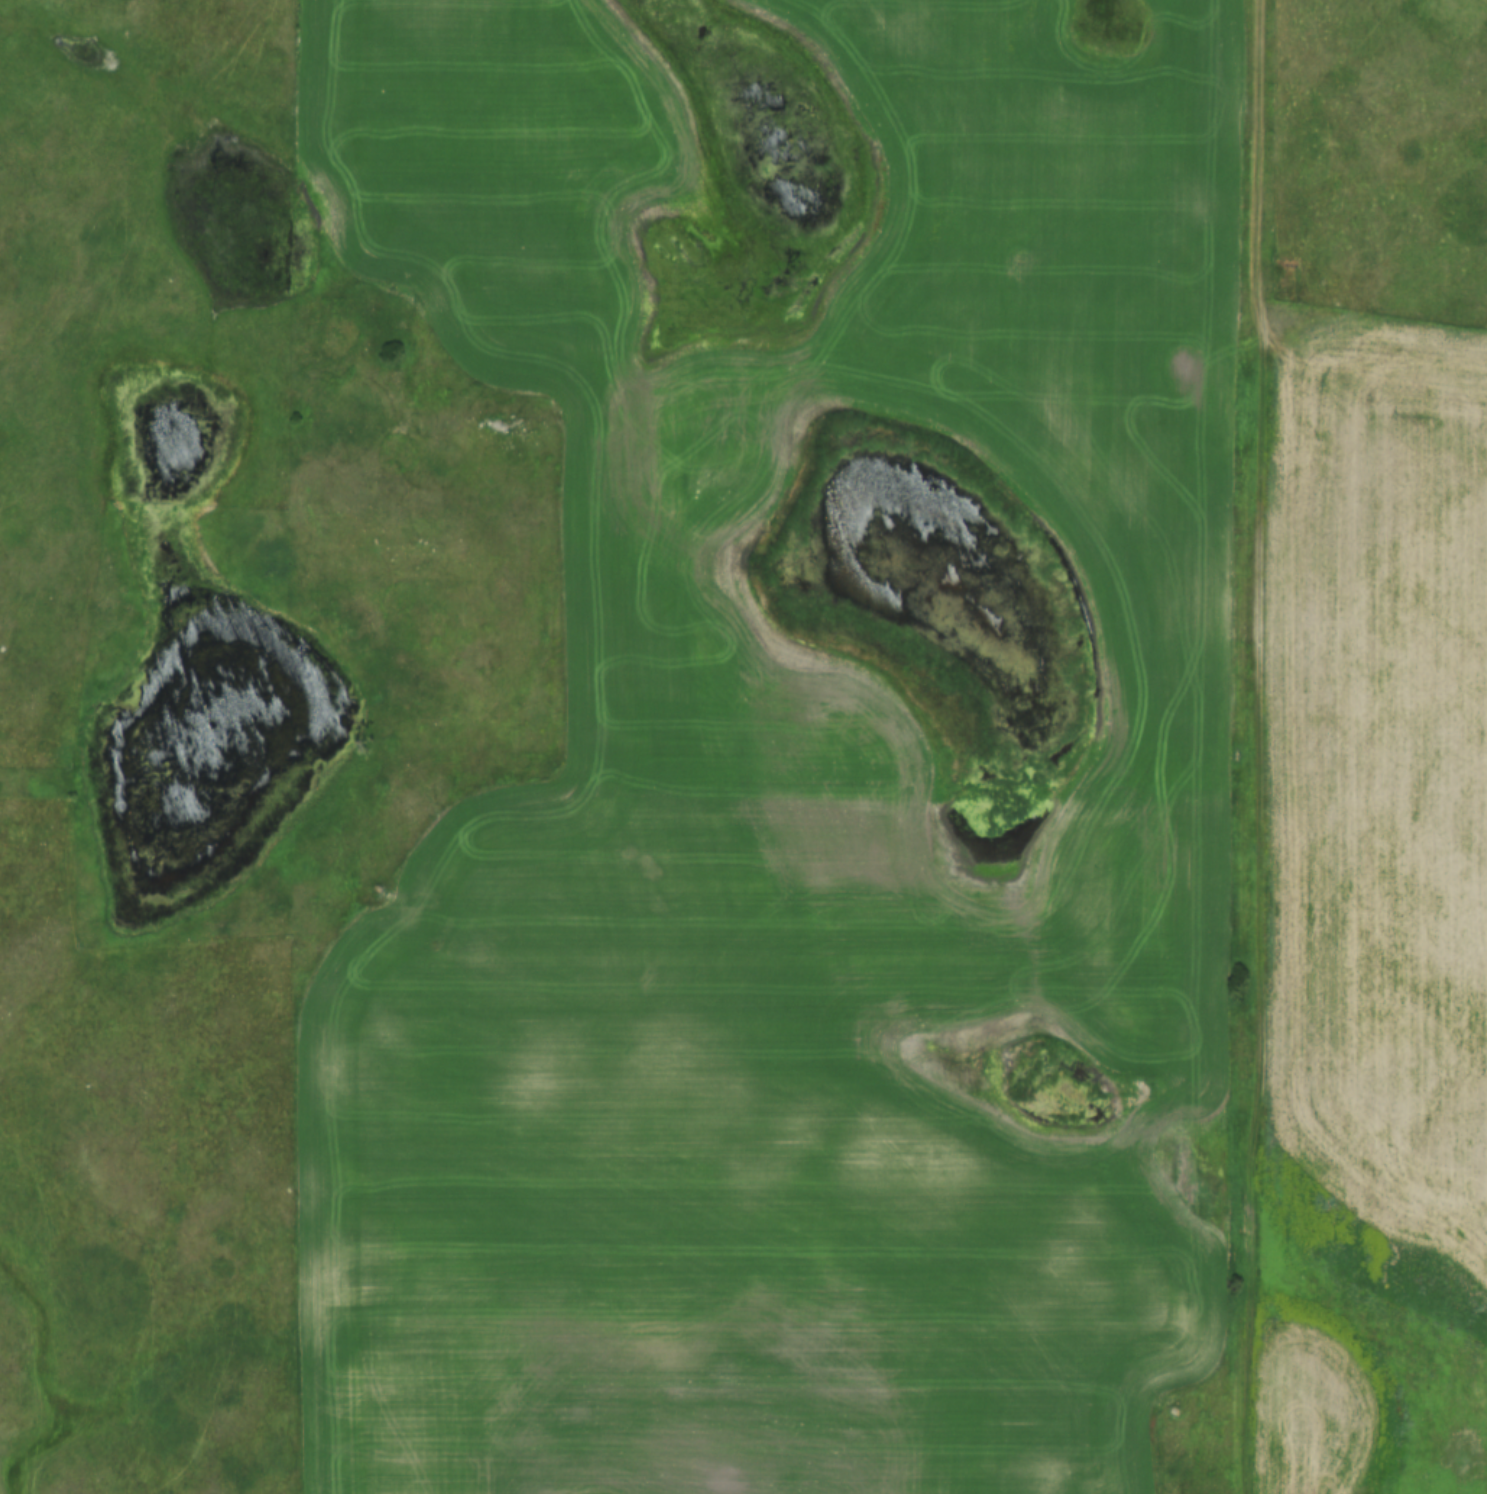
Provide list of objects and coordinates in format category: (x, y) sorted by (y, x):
road: (1259, 747)

